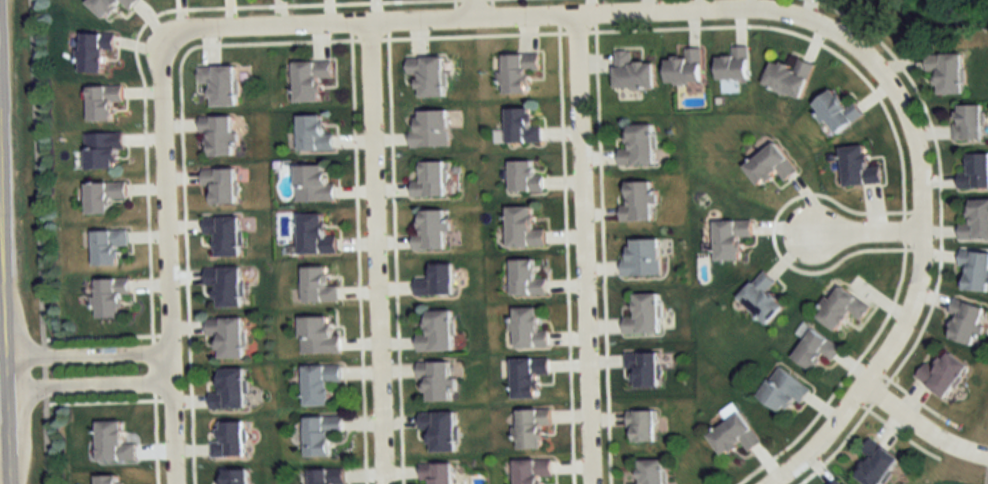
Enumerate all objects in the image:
building: (110, 6)
road: (467, 9)
road: (464, 18)
building: (95, 52)
building: (735, 66)
building: (686, 69)
building: (518, 73)
building: (633, 73)
building: (948, 73)
building: (428, 76)
building: (790, 78)
building: (309, 81)
building: (219, 85)
building: (102, 103)
building: (838, 113)
building: (970, 123)
building: (521, 127)
building: (430, 130)
building: (219, 135)
building: (313, 135)
building: (639, 145)
building: (103, 150)
building: (770, 164)
building: (859, 167)
building: (975, 173)
building: (524, 177)
building: (430, 180)
building: (221, 184)
building: (313, 184)
building: (103, 195)
building: (639, 202)
building: (976, 221)
building: (523, 228)
road: (921, 228)
building: (432, 230)
road: (863, 231)
building: (224, 233)
building: (315, 235)
building: (732, 238)
road: (41, 242)
building: (108, 246)
road: (581, 249)
road: (374, 253)
road: (167, 255)
building: (643, 258)
building: (975, 269)
building: (526, 279)
building: (437, 281)
building: (225, 284)
building: (319, 285)
building: (110, 296)
building: (762, 298)
building: (843, 308)
building: (645, 315)
building: (966, 321)
building: (528, 329)
building: (437, 332)
road: (102, 333)
building: (228, 336)
building: (318, 336)
building: (817, 350)
road: (85, 354)
building: (645, 368)
building: (944, 375)
building: (528, 376)
building: (436, 379)
building: (320, 383)
road: (85, 388)
building: (230, 390)
building: (784, 391)
road: (104, 398)
building: (642, 426)
road: (921, 426)
building: (532, 428)
building: (321, 434)
building: (735, 435)
building: (230, 440)
building: (113, 443)
road: (1, 451)
building: (877, 462)
building: (533, 470)
building: (652, 471)
building: (438, 473)
building: (236, 476)
building: (327, 476)
building: (106, 479)
building: (836, 482)

